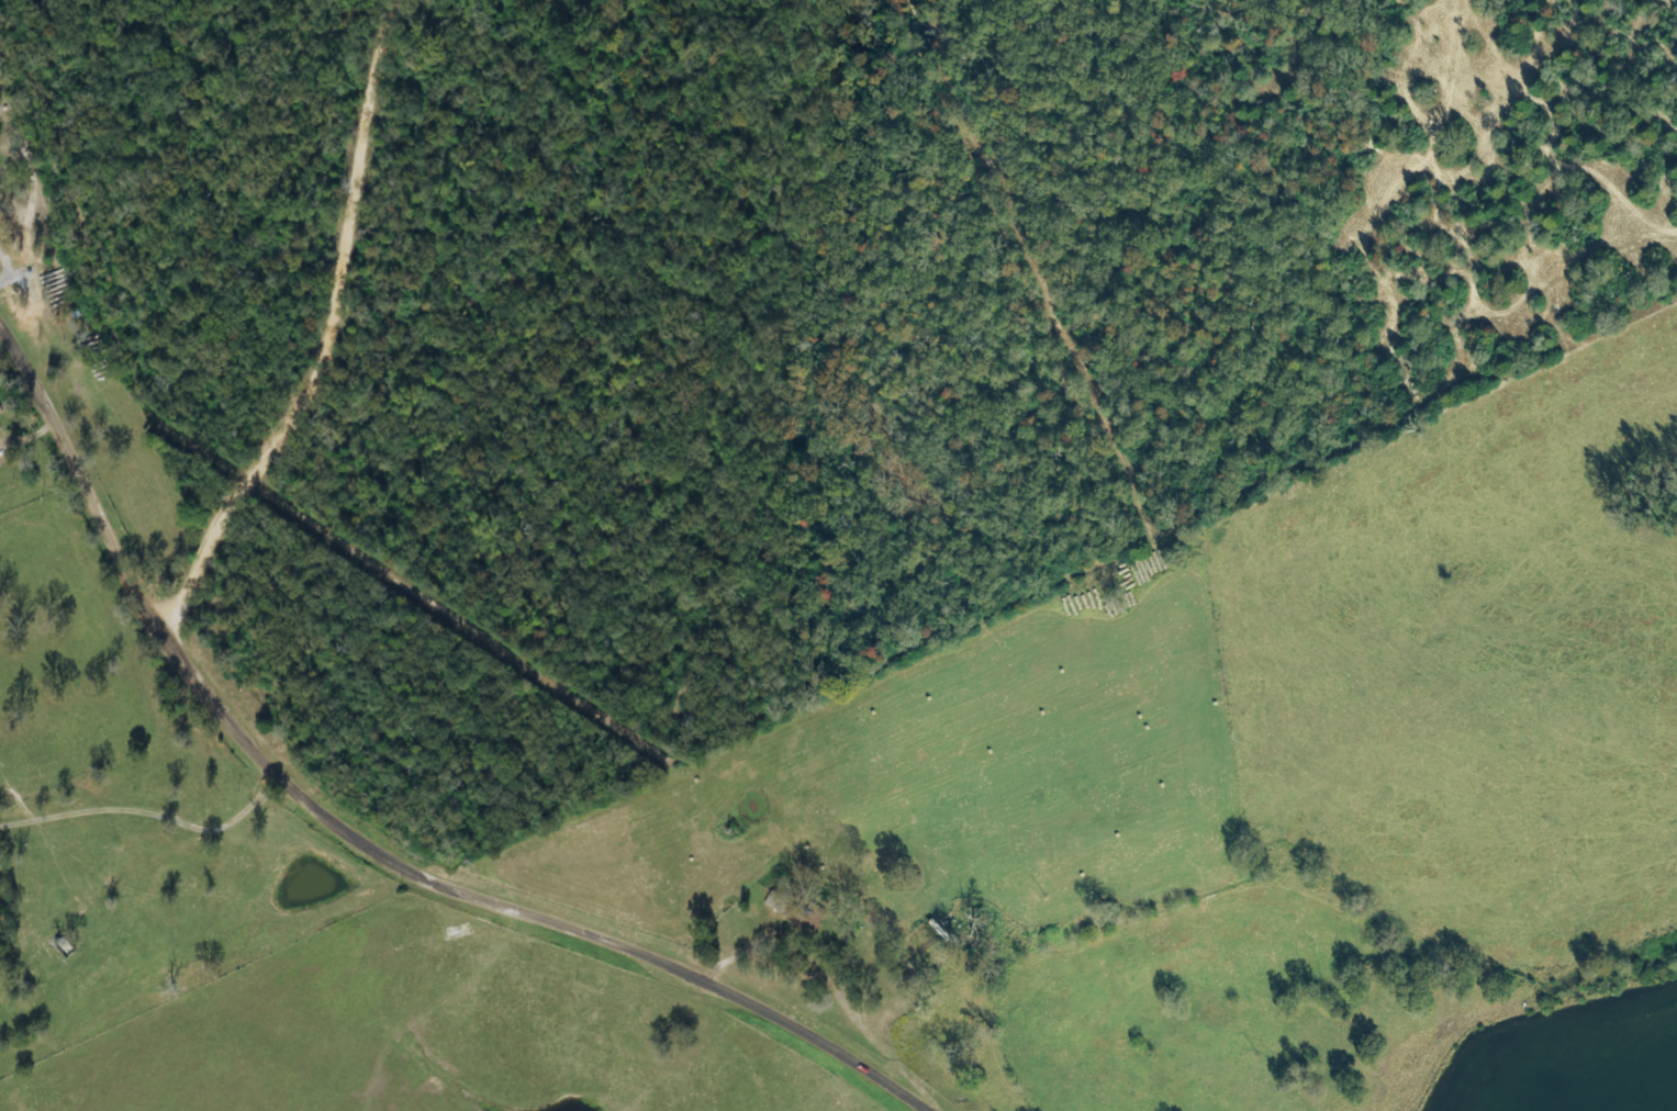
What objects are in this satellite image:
road: (334, 325)
road: (144, 595)
building: (776, 904)
road: (612, 939)
road: (167, 994)
road: (1384, 1050)

